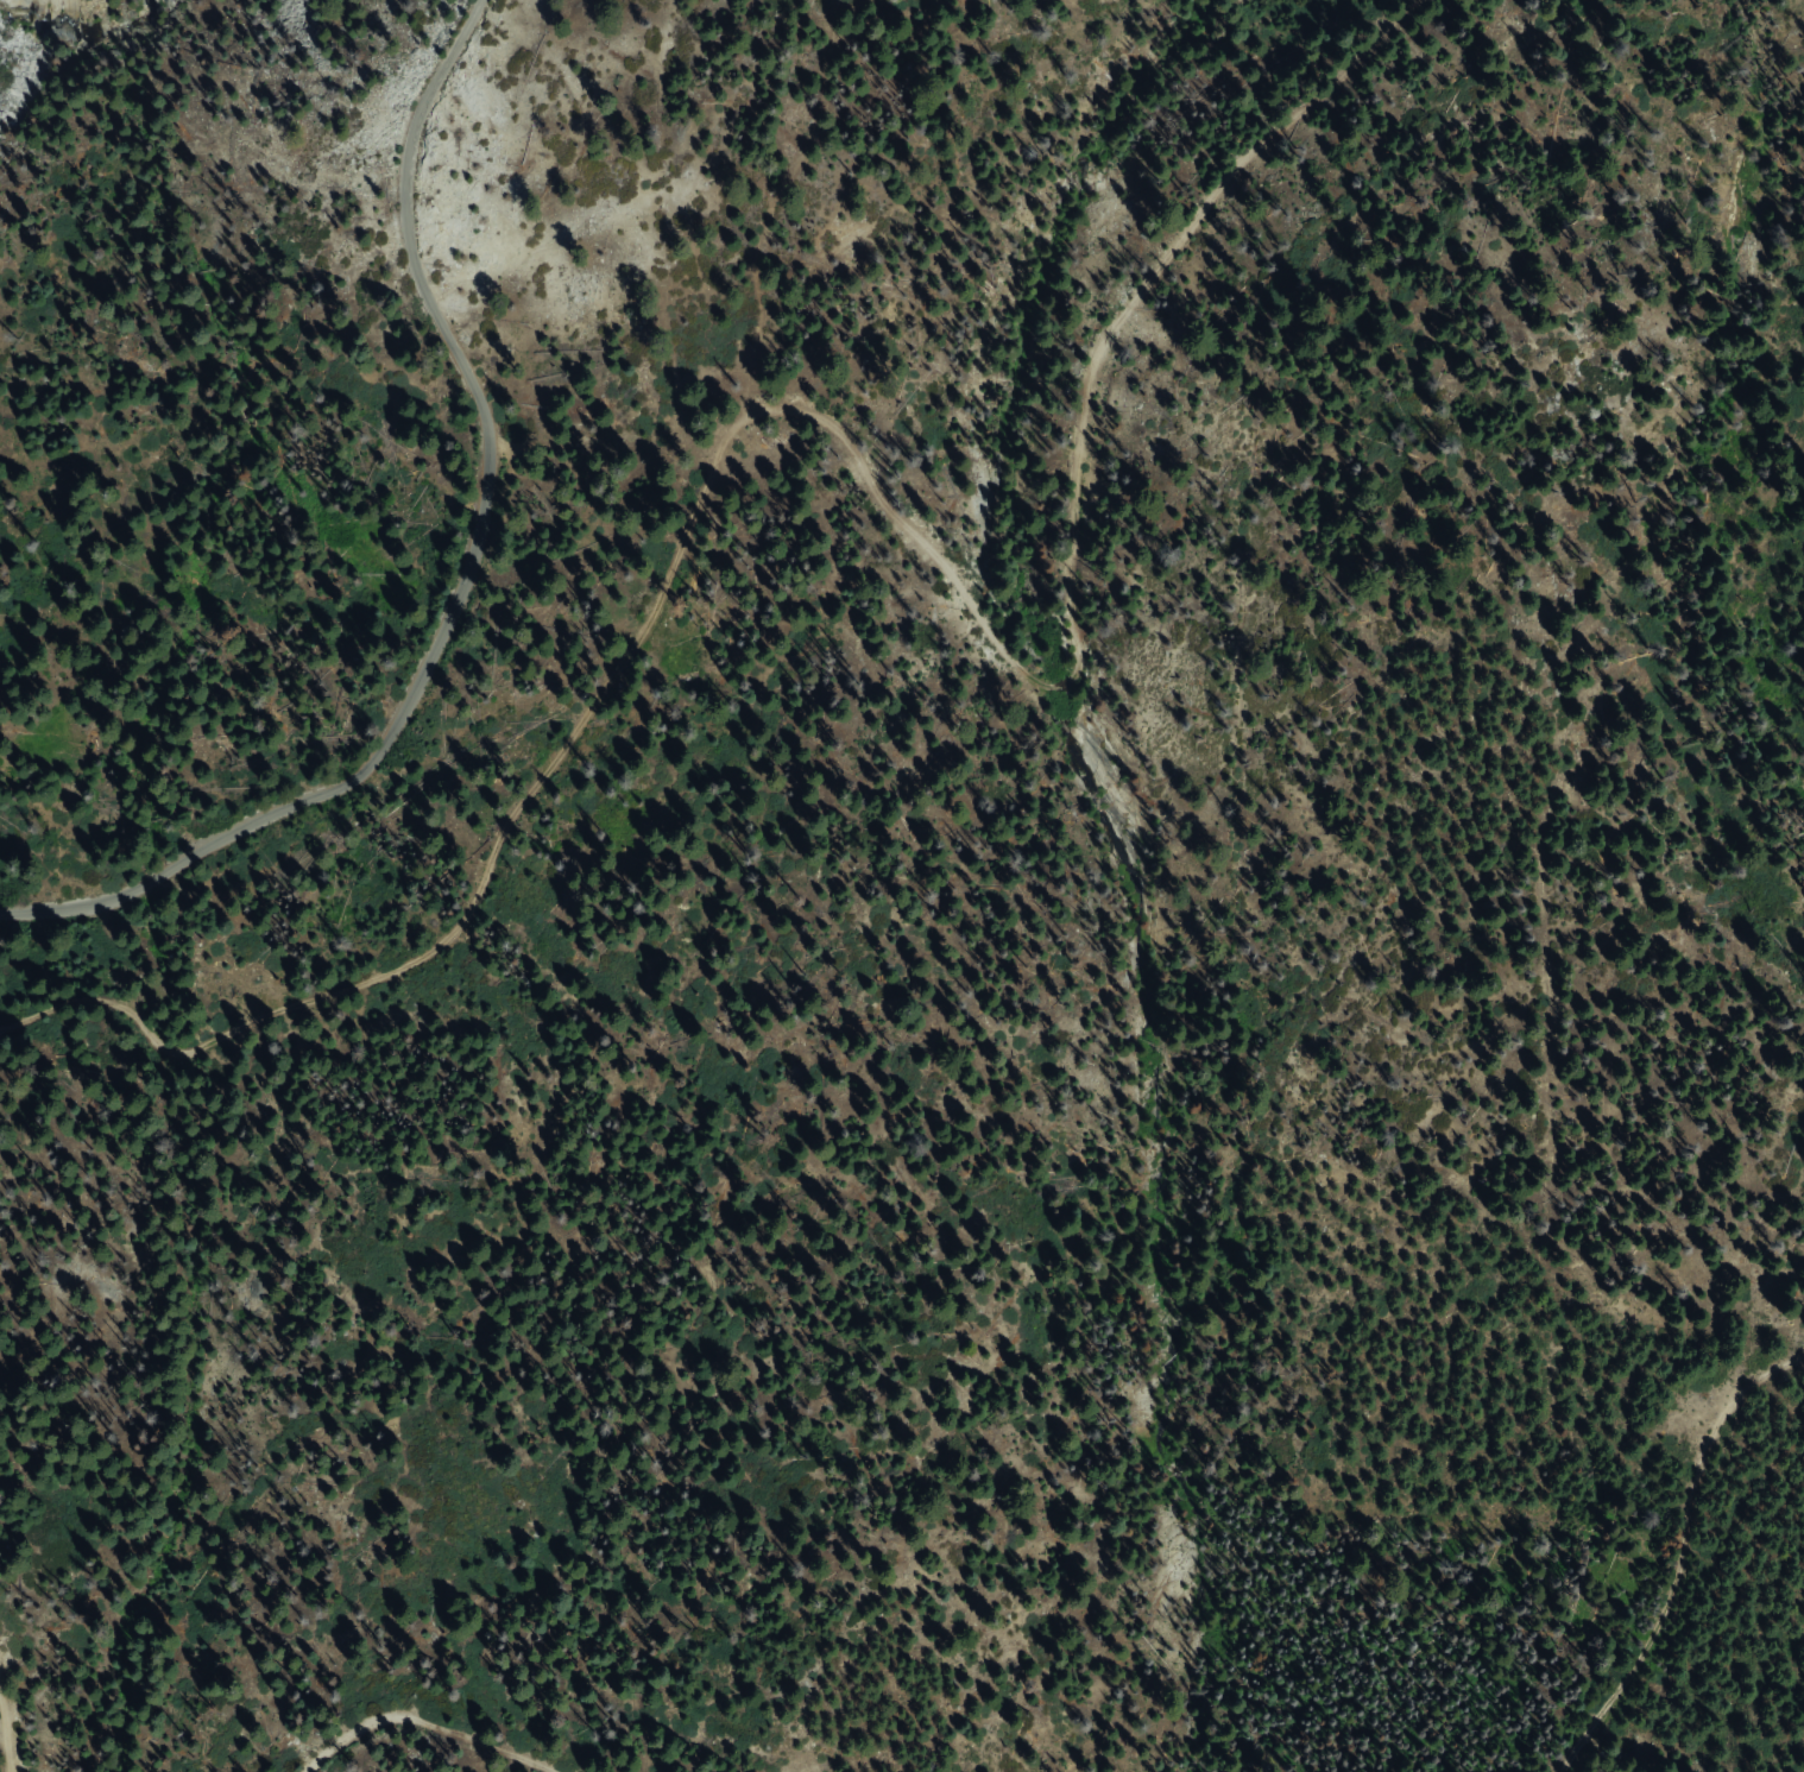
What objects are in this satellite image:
road: (812, 449)
road: (468, 579)
road: (1671, 1562)
road: (391, 1749)

